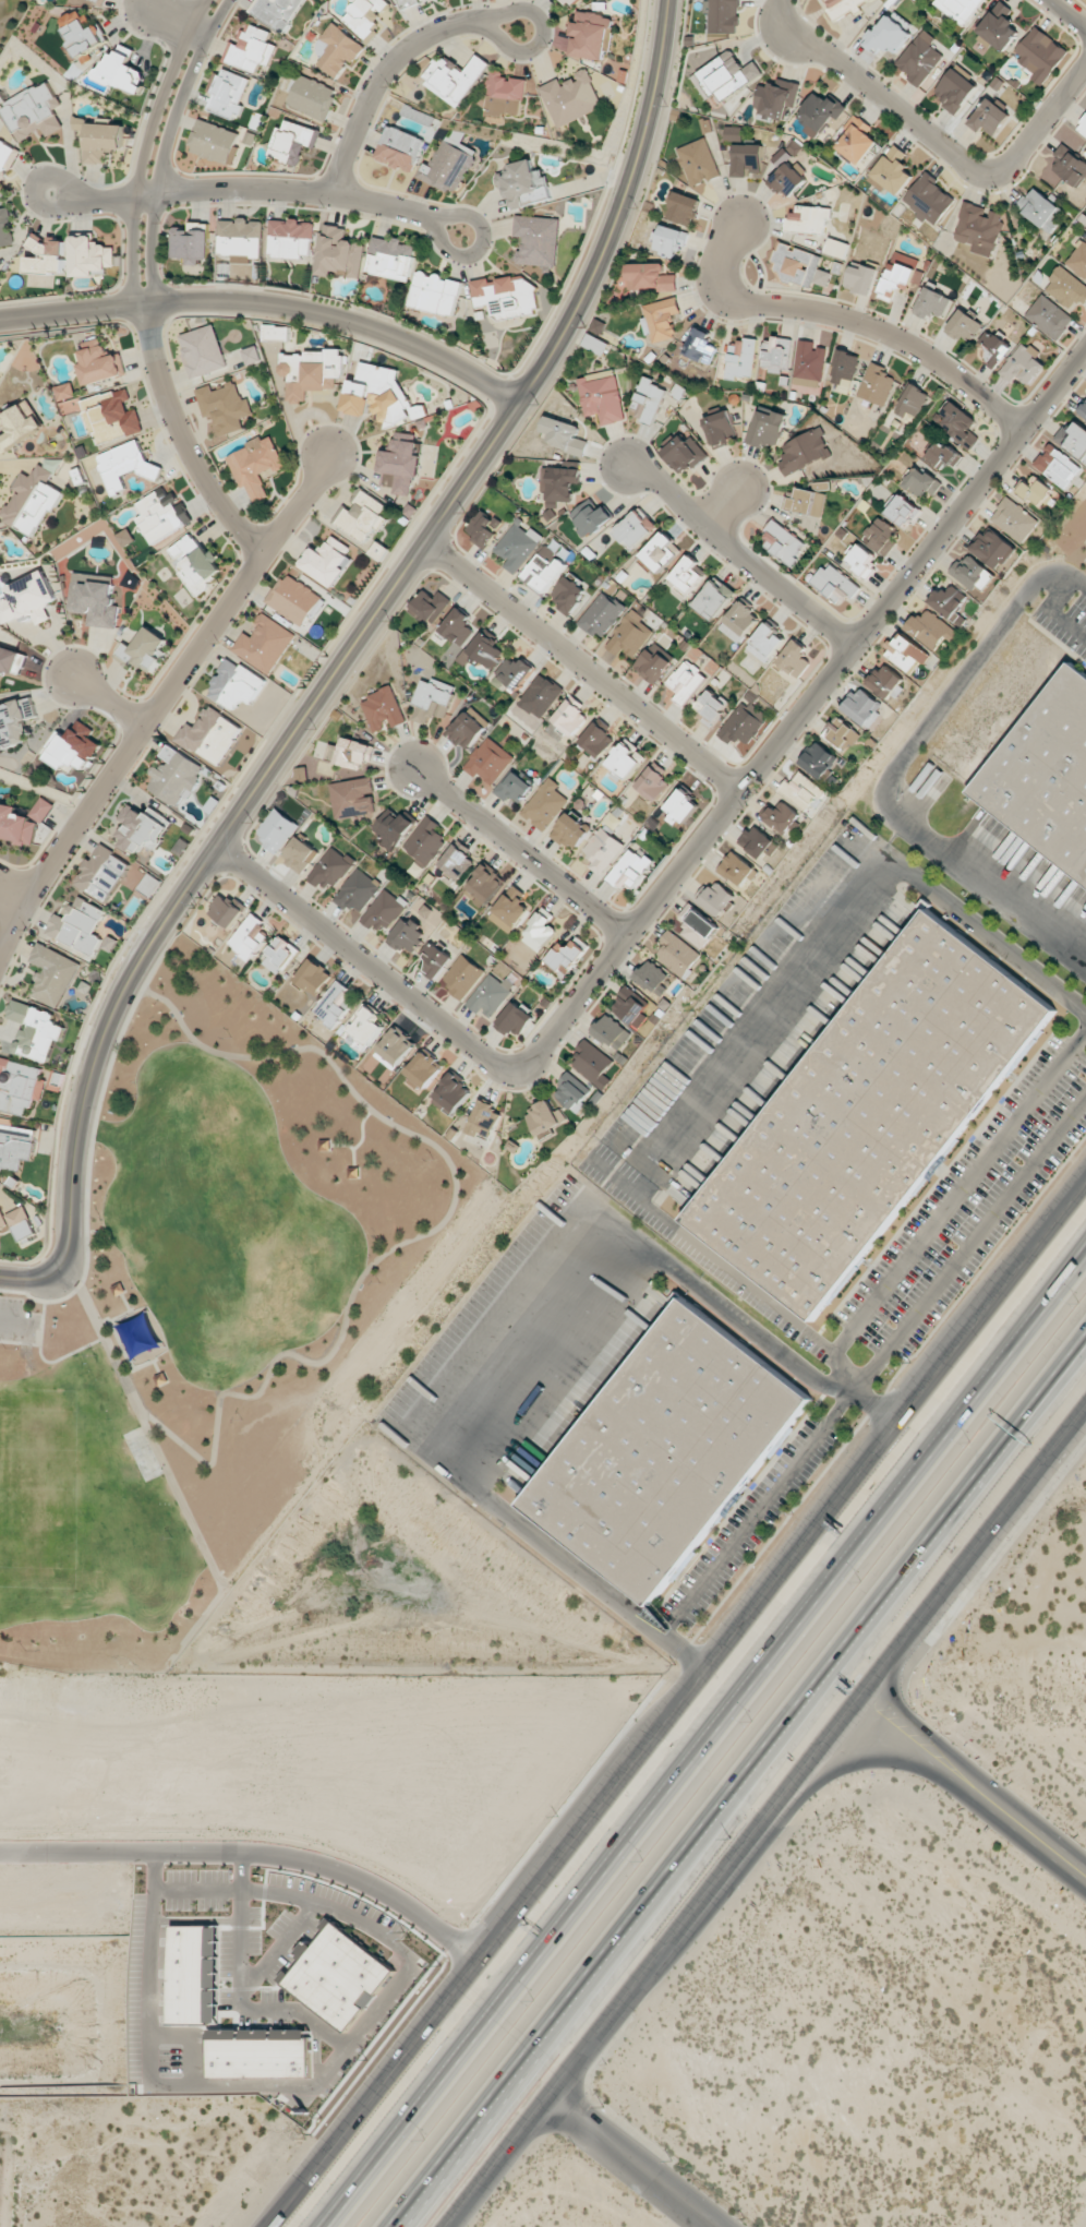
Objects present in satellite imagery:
building: (97, 0)
building: (570, 2)
building: (408, 3)
building: (843, 7)
building: (958, 9)
building: (277, 12)
road: (1069, 13)
building: (365, 14)
building: (723, 15)
road: (179, 23)
building: (999, 26)
building: (83, 33)
building: (591, 35)
building: (888, 35)
building: (251, 49)
building: (337, 49)
building: (1040, 55)
building: (919, 58)
road: (390, 64)
building: (123, 70)
building: (727, 74)
building: (454, 79)
building: (954, 89)
building: (227, 93)
building: (505, 94)
building: (312, 97)
road: (872, 97)
building: (571, 98)
building: (776, 99)
building: (820, 113)
building: (418, 115)
building: (989, 117)
building: (1083, 125)
road: (1043, 127)
building: (733, 132)
building: (102, 141)
building: (214, 141)
building: (292, 141)
building: (857, 141)
road: (165, 147)
road: (145, 148)
building: (399, 148)
building: (5, 154)
building: (747, 159)
building: (698, 161)
building: (448, 163)
building: (1070, 167)
building: (893, 170)
building: (787, 180)
building: (522, 183)
road: (256, 189)
building: (929, 199)
building: (683, 208)
building: (1039, 208)
building: (808, 218)
building: (5, 228)
building: (978, 228)
building: (240, 237)
building: (291, 238)
building: (536, 240)
building: (671, 240)
building: (837, 248)
building: (339, 253)
building: (46, 255)
building: (90, 256)
building: (391, 259)
building: (1078, 259)
building: (799, 266)
building: (649, 277)
building: (861, 278)
building: (896, 280)
building: (1066, 288)
building: (435, 294)
building: (506, 296)
road: (267, 307)
building: (1049, 316)
building: (660, 321)
road: (846, 322)
building: (598, 326)
building: (963, 326)
building: (276, 333)
building: (595, 344)
building: (700, 346)
building: (995, 347)
building: (203, 350)
building: (775, 354)
building: (252, 355)
building: (741, 358)
building: (100, 363)
building: (809, 363)
building: (1023, 364)
building: (845, 367)
building: (311, 372)
building: (877, 384)
building: (379, 395)
building: (602, 396)
building: (69, 398)
building: (648, 399)
building: (913, 400)
building: (225, 406)
building: (1083, 410)
building: (112, 416)
building: (21, 424)
building: (958, 424)
building: (721, 429)
building: (767, 429)
building: (564, 435)
building: (1073, 439)
road: (181, 444)
building: (804, 452)
building: (685, 454)
building: (942, 454)
building: (400, 464)
building: (125, 465)
building: (255, 465)
building: (1058, 466)
building: (921, 481)
building: (559, 483)
building: (1036, 490)
building: (32, 500)
building: (806, 502)
road: (722, 507)
building: (903, 511)
building: (161, 514)
building: (361, 516)
building: (590, 517)
building: (1014, 519)
building: (483, 528)
building: (636, 529)
building: (881, 535)
building: (124, 538)
building: (782, 542)
building: (517, 547)
building: (993, 548)
building: (660, 552)
road: (738, 555)
building: (327, 560)
building: (860, 560)
building: (196, 562)
building: (543, 570)
building: (972, 573)
building: (687, 574)
building: (834, 584)
building: (567, 595)
building: (94, 598)
building: (714, 598)
building: (27, 599)
building: (295, 600)
building: (949, 600)
building: (431, 606)
building: (602, 614)
building: (739, 621)
building: (458, 626)
building: (931, 628)
building: (629, 635)
building: (767, 642)
building: (265, 644)
building: (143, 649)
building: (486, 649)
building: (906, 652)
building: (794, 658)
building: (11, 660)
road: (345, 662)
building: (653, 663)
road: (581, 668)
building: (514, 674)
building: (686, 681)
building: (886, 682)
building: (236, 684)
building: (541, 696)
building: (432, 699)
road: (161, 701)
road: (106, 703)
building: (710, 707)
building: (862, 707)
building: (383, 709)
building: (567, 719)
building: (17, 721)
building: (744, 723)
building: (468, 729)
building: (842, 733)
building: (209, 735)
building: (598, 740)
building: (76, 747)
building: (351, 753)
building: (819, 759)
building: (488, 761)
building: (625, 761)
building: (1045, 771)
road: (893, 773)
building: (174, 776)
building: (653, 781)
building: (514, 787)
building: (804, 792)
building: (353, 798)
building: (544, 804)
building: (681, 807)
building: (782, 817)
building: (23, 821)
building: (393, 828)
building: (277, 830)
building: (571, 830)
building: (425, 840)
building: (758, 842)
building: (602, 849)
road: (517, 852)
building: (300, 853)
road: (685, 858)
building: (457, 862)
building: (333, 869)
building: (629, 870)
building: (102, 873)
building: (149, 885)
building: (484, 885)
building: (358, 890)
building: (716, 897)
road: (9, 900)
building: (227, 910)
building: (510, 910)
building: (384, 911)
building: (79, 925)
building: (698, 926)
building: (539, 931)
building: (407, 935)
building: (250, 936)
road: (995, 938)
building: (677, 954)
building: (279, 955)
building: (567, 956)
building: (436, 959)
building: (52, 974)
building: (313, 977)
building: (462, 977)
building: (652, 978)
building: (490, 995)
building: (335, 1005)
building: (630, 1007)
building: (514, 1019)
building: (363, 1028)
building: (35, 1030)
building: (611, 1032)
building: (395, 1047)
building: (593, 1064)
building: (423, 1069)
building: (17, 1085)
building: (572, 1091)
building: (451, 1094)
road: (97, 1107)
building: (871, 1113)
building: (544, 1117)
building: (484, 1120)
road: (362, 1129)
road: (351, 1147)
road: (958, 1194)
building: (2, 1220)
building: (22, 1222)
road: (426, 1233)
road: (767, 1306)
park: (210, 1315)
road: (737, 1317)
road: (16, 1319)
parking lot: (16, 1320)
road: (20, 1342)
road: (1006, 1350)
road: (46, 1361)
road: (872, 1367)
road: (869, 1402)
road: (1031, 1415)
building: (667, 1450)
road: (173, 1486)
road: (588, 1579)
road: (676, 1705)
road: (914, 1717)
road: (894, 1736)
road: (712, 1746)
road: (868, 1759)
road: (744, 1780)
road: (1018, 1808)
road: (769, 1819)
road: (1007, 1830)
road: (226, 1851)
road: (464, 1935)
road: (452, 1947)
building: (196, 1975)
building: (337, 1975)
road: (567, 2028)
building: (262, 2052)
road: (633, 2160)

